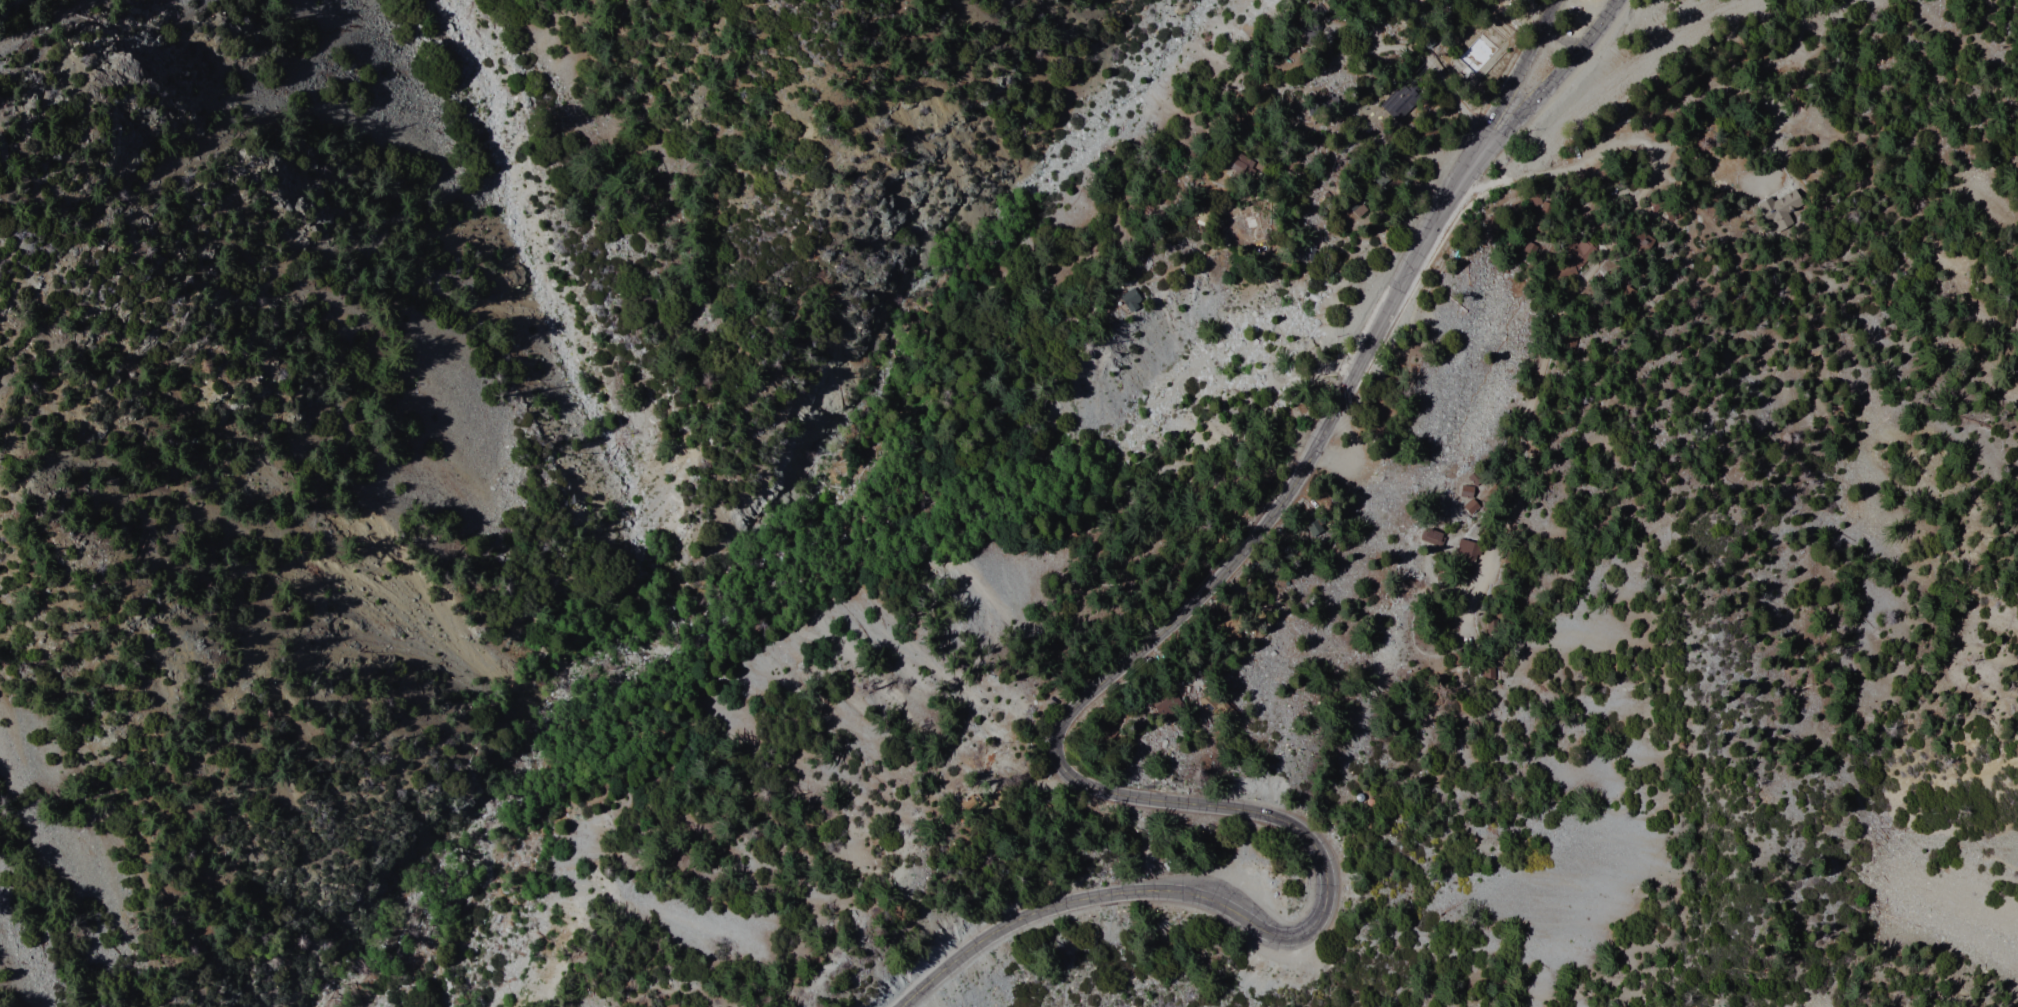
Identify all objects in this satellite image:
road: (1534, 15)
building: (1482, 48)
road: (1380, 52)
road: (1520, 68)
road: (1560, 75)
building: (1241, 167)
road: (1549, 169)
building: (1782, 208)
building: (1638, 242)
building: (1572, 260)
building: (1128, 300)
building: (1571, 342)
building: (1465, 556)
road: (1086, 652)
road: (994, 673)
building: (1160, 702)
road: (1095, 720)
road: (1078, 780)

